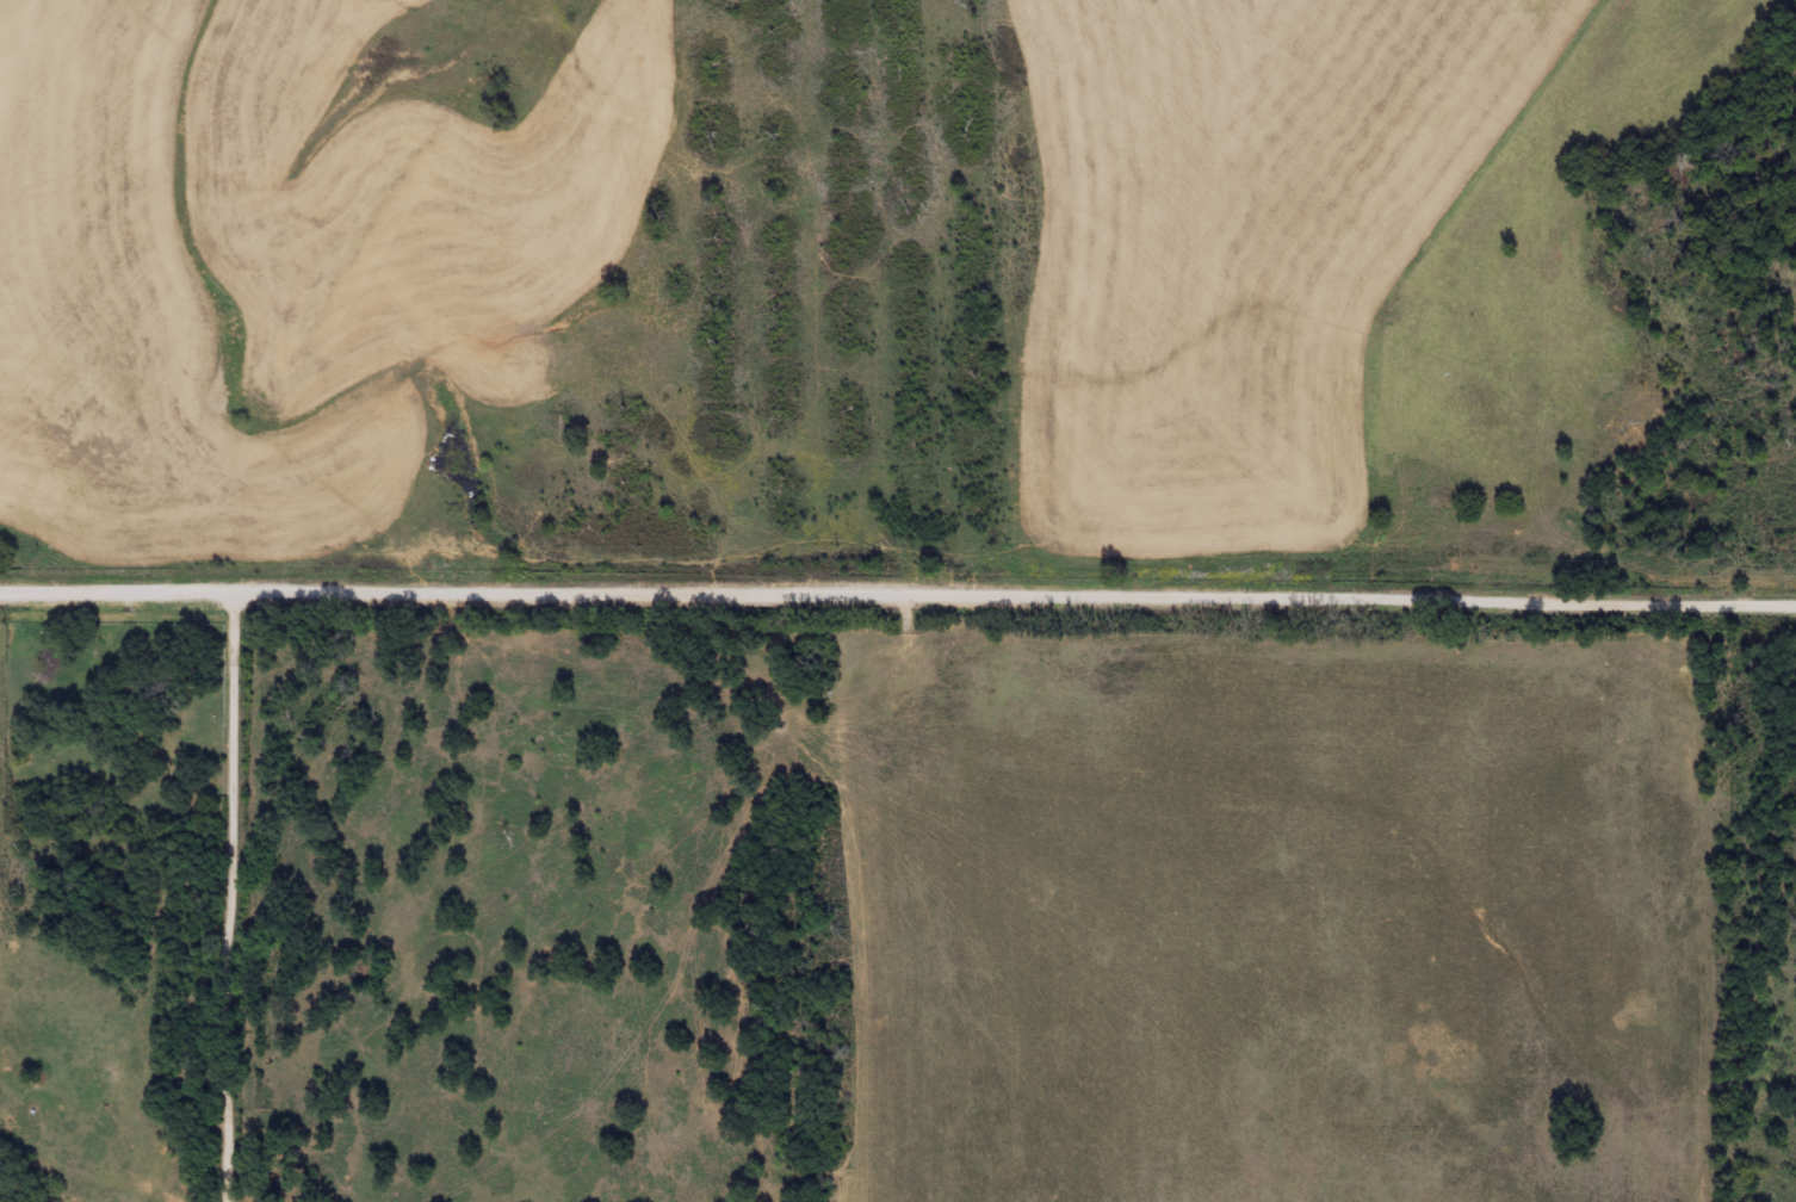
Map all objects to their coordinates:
road: (898, 594)
park: (111, 727)
road: (250, 897)

